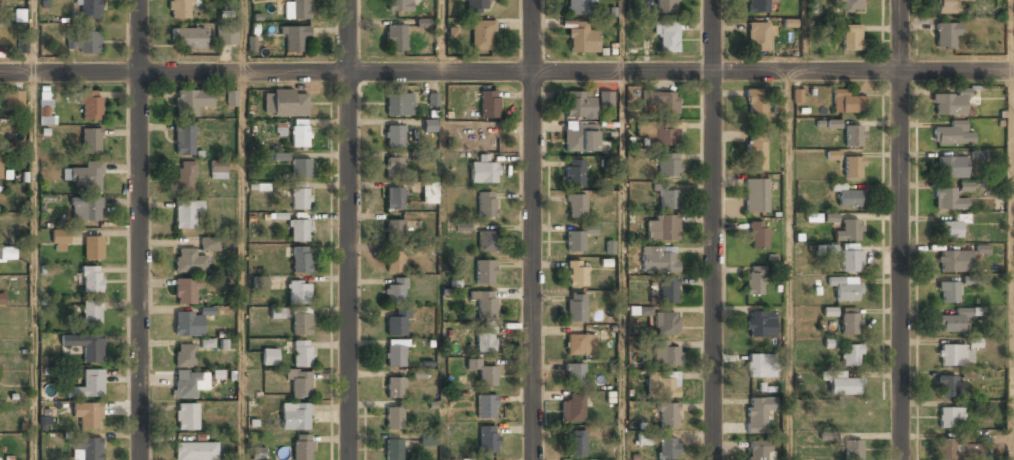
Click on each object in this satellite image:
building: (850, 4)
building: (398, 5)
building: (476, 6)
building: (664, 6)
building: (758, 6)
building: (947, 6)
building: (579, 7)
building: (90, 9)
building: (179, 9)
building: (296, 9)
building: (482, 34)
building: (395, 35)
road: (622, 35)
building: (667, 35)
road: (1012, 35)
building: (227, 36)
road: (441, 36)
building: (851, 36)
building: (946, 36)
building: (582, 37)
building: (758, 37)
building: (190, 38)
building: (292, 38)
building: (84, 42)
road: (507, 72)
building: (797, 96)
building: (231, 98)
building: (605, 98)
building: (14, 99)
building: (776, 100)
building: (192, 101)
building: (662, 101)
building: (755, 101)
building: (286, 102)
building: (848, 102)
building: (950, 102)
building: (489, 103)
building: (90, 104)
building: (399, 104)
building: (578, 104)
building: (45, 108)
building: (429, 125)
building: (661, 133)
building: (953, 133)
building: (300, 135)
building: (394, 136)
building: (853, 136)
building: (185, 138)
building: (578, 139)
building: (91, 140)
building: (756, 151)
building: (0, 164)
building: (669, 164)
building: (393, 166)
building: (853, 167)
building: (950, 167)
building: (300, 168)
building: (217, 169)
building: (483, 170)
building: (573, 172)
building: (85, 175)
building: (185, 176)
building: (966, 186)
building: (430, 192)
building: (756, 195)
building: (299, 197)
building: (395, 198)
building: (849, 198)
building: (667, 199)
building: (947, 200)
building: (486, 204)
building: (575, 205)
building: (85, 208)
building: (187, 214)
building: (463, 226)
building: (662, 228)
road: (34, 229)
road: (140, 229)
road: (242, 229)
road: (349, 229)
building: (394, 229)
road: (714, 229)
road: (901, 229)
building: (948, 229)
building: (298, 230)
road: (532, 230)
building: (848, 231)
building: (578, 234)
building: (758, 235)
building: (59, 240)
building: (486, 240)
building: (208, 244)
building: (92, 246)
building: (7, 254)
building: (659, 258)
building: (300, 259)
building: (850, 260)
building: (189, 261)
building: (394, 261)
building: (954, 261)
road: (621, 265)
road: (788, 265)
road: (1012, 265)
building: (485, 270)
building: (576, 272)
building: (92, 278)
building: (972, 280)
building: (756, 282)
building: (260, 283)
building: (845, 287)
building: (298, 290)
building: (395, 290)
building: (668, 290)
building: (186, 291)
building: (948, 292)
building: (2, 298)
building: (484, 302)
building: (575, 307)
building: (829, 311)
building: (91, 313)
building: (277, 313)
building: (850, 320)
building: (953, 321)
building: (188, 323)
building: (301, 323)
building: (664, 323)
building: (395, 324)
building: (760, 324)
building: (485, 339)
building: (579, 344)
building: (85, 346)
building: (302, 353)
building: (185, 354)
building: (395, 354)
building: (664, 354)
building: (850, 354)
building: (953, 355)
building: (270, 357)
building: (760, 366)
building: (484, 373)
building: (574, 373)
building: (843, 382)
building: (188, 383)
building: (300, 384)
building: (662, 384)
building: (88, 385)
building: (949, 386)
building: (395, 387)
building: (485, 405)
building: (572, 409)
building: (758, 413)
building: (850, 413)
building: (87, 414)
building: (295, 415)
building: (668, 415)
building: (187, 416)
building: (950, 417)
building: (393, 418)
building: (643, 438)
building: (428, 439)
building: (488, 439)
building: (576, 443)
building: (302, 446)
building: (945, 448)
building: (86, 449)
building: (393, 449)
building: (668, 449)
building: (853, 449)
building: (757, 450)
building: (196, 451)

